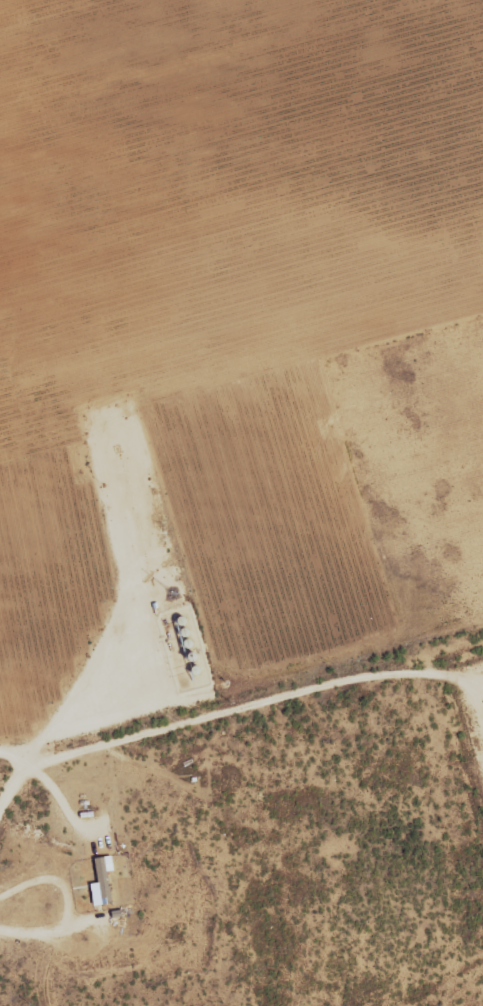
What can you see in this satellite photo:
road: (12, 780)

